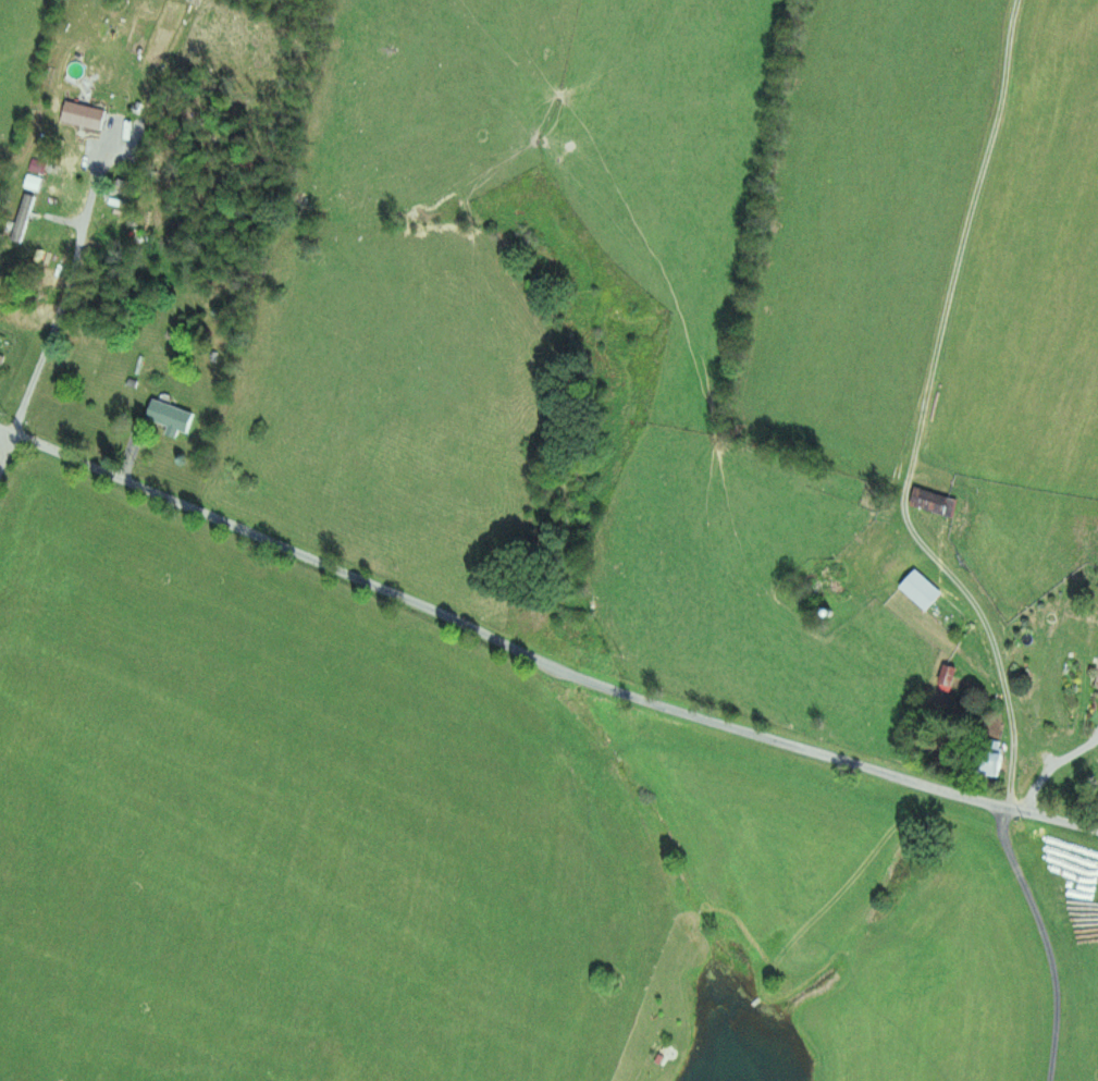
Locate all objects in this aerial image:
building: (84, 116)
building: (23, 219)
road: (70, 284)
road: (928, 413)
building: (170, 417)
road: (4, 450)
building: (933, 503)
building: (921, 590)
road: (539, 656)
building: (988, 763)

